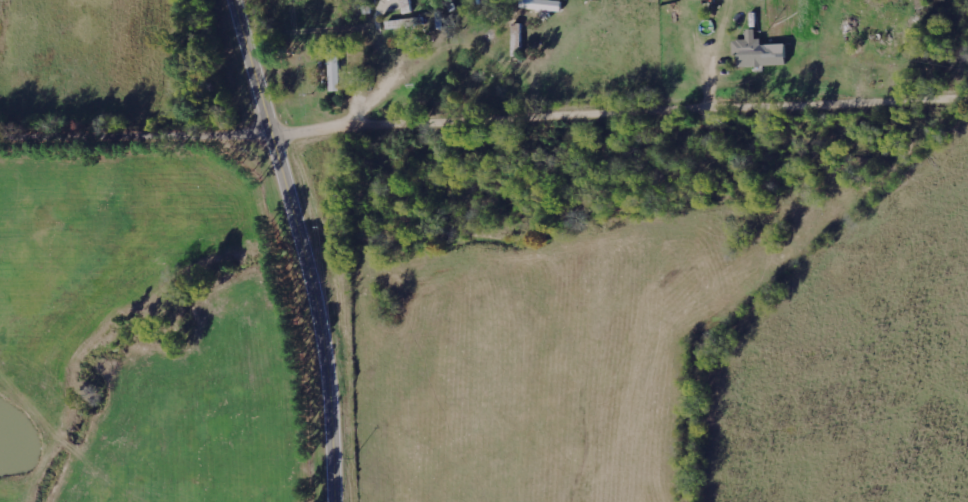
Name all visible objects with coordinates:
building: (761, 52)
building: (338, 69)
road: (369, 99)
road: (486, 123)
road: (308, 247)

